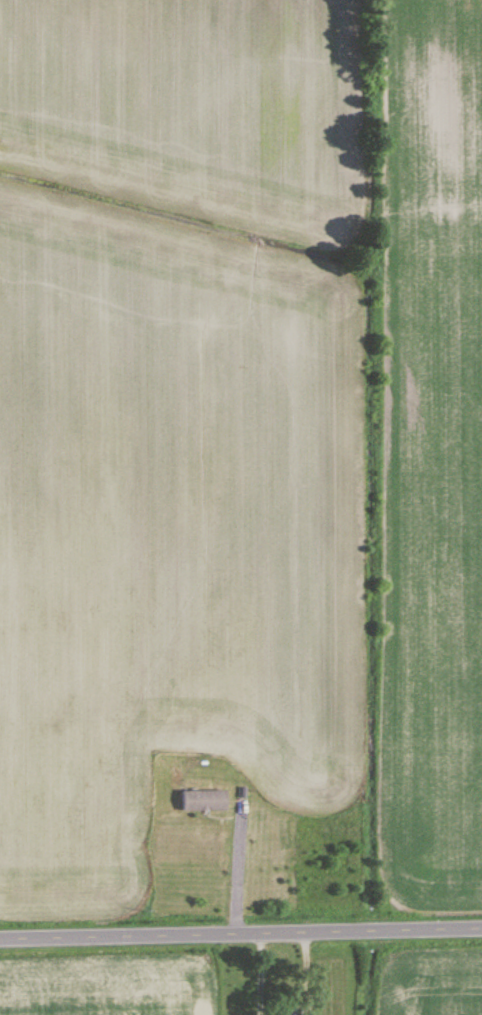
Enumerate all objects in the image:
building: (204, 800)
road: (233, 869)
road: (240, 932)
building: (287, 1011)

